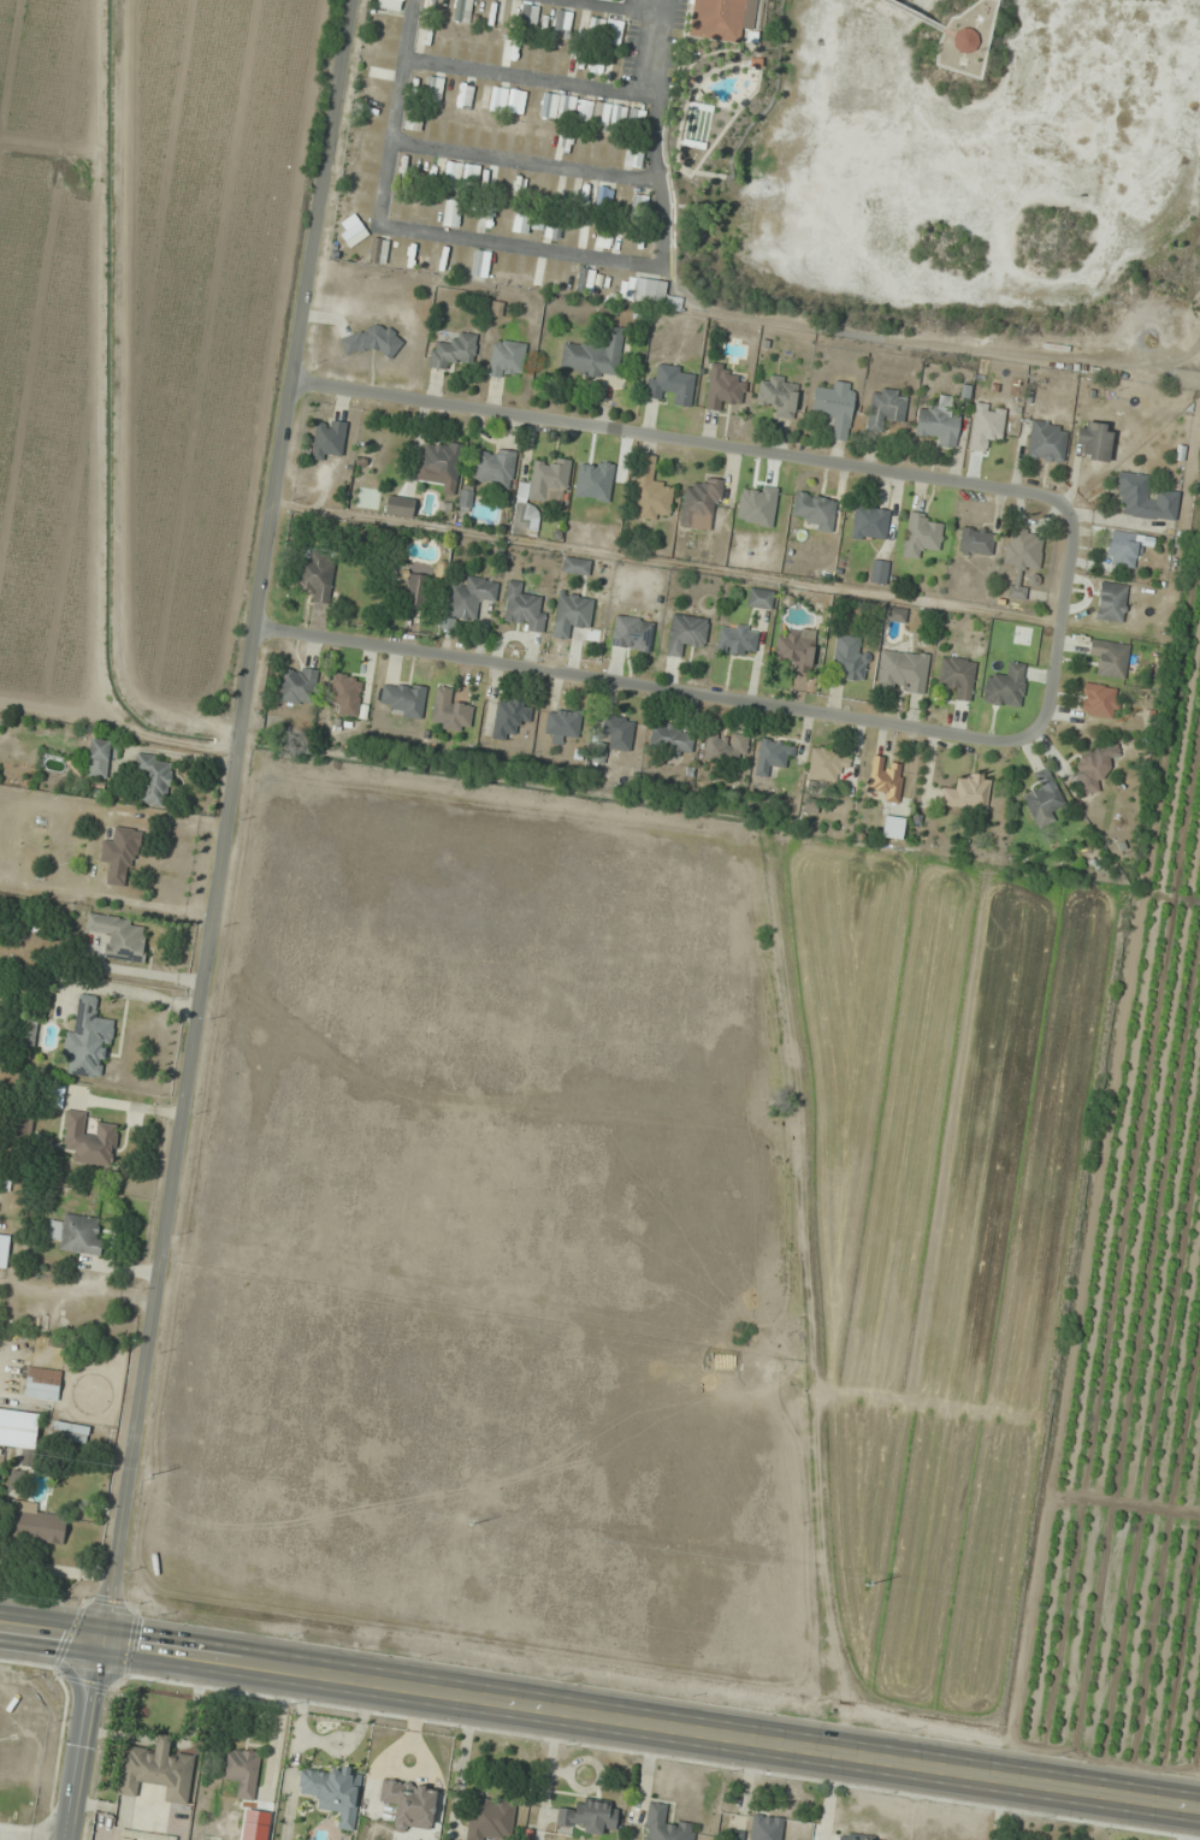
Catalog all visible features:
building: (390, 5)
building: (463, 6)
road: (614, 6)
building: (528, 16)
road: (918, 18)
building: (716, 19)
building: (380, 23)
building: (615, 32)
road: (714, 40)
building: (964, 40)
road: (720, 46)
building: (473, 48)
road: (676, 54)
building: (755, 61)
building: (378, 69)
road: (530, 79)
building: (447, 94)
building: (462, 95)
building: (498, 99)
building: (566, 107)
building: (367, 108)
road: (397, 113)
building: (413, 119)
building: (697, 122)
road: (655, 132)
building: (636, 153)
road: (525, 161)
building: (461, 176)
building: (485, 177)
building: (501, 182)
building: (518, 188)
building: (585, 195)
building: (603, 199)
building: (639, 206)
building: (451, 213)
building: (487, 217)
building: (521, 221)
building: (554, 226)
building: (354, 233)
road: (520, 247)
building: (480, 264)
building: (654, 295)
road: (770, 320)
building: (372, 341)
building: (453, 351)
building: (593, 356)
building: (506, 360)
building: (670, 384)
building: (723, 389)
building: (778, 394)
building: (835, 407)
building: (885, 408)
building: (936, 421)
building: (986, 426)
building: (329, 439)
building: (1093, 439)
building: (1046, 442)
building: (439, 462)
building: (493, 468)
building: (549, 481)
building: (650, 492)
building: (465, 497)
building: (1145, 499)
building: (701, 501)
building: (398, 507)
building: (815, 510)
building: (524, 519)
building: (869, 523)
building: (921, 534)
building: (975, 540)
building: (1023, 549)
building: (1124, 549)
building: (575, 566)
building: (879, 570)
building: (315, 575)
building: (415, 591)
building: (469, 597)
building: (759, 598)
building: (1111, 602)
building: (522, 607)
building: (572, 614)
building: (897, 614)
road: (1057, 623)
building: (632, 633)
building: (685, 633)
building: (737, 639)
building: (794, 650)
building: (849, 658)
building: (1110, 658)
building: (902, 670)
building: (957, 676)
building: (297, 685)
building: (1005, 685)
building: (345, 693)
building: (403, 698)
building: (1099, 700)
building: (449, 711)
building: (509, 717)
building: (561, 724)
building: (617, 732)
building: (670, 739)
building: (725, 747)
building: (773, 756)
building: (101, 759)
building: (828, 764)
building: (1094, 764)
building: (154, 779)
building: (886, 779)
building: (966, 793)
building: (1042, 800)
road: (223, 822)
building: (892, 827)
building: (119, 852)
building: (118, 935)
building: (29, 1033)
building: (88, 1041)
building: (88, 1138)
building: (77, 1233)
building: (4, 1250)
building: (42, 1384)
building: (70, 1432)
building: (18, 1434)
building: (32, 1524)
traffic signals: (104, 1645)
road: (599, 1723)
road: (88, 1743)
building: (155, 1770)
building: (241, 1770)
building: (333, 1792)
building: (409, 1803)
building: (585, 1816)
building: (489, 1818)
building: (664, 1824)
building: (765, 1827)
building: (857, 1838)

